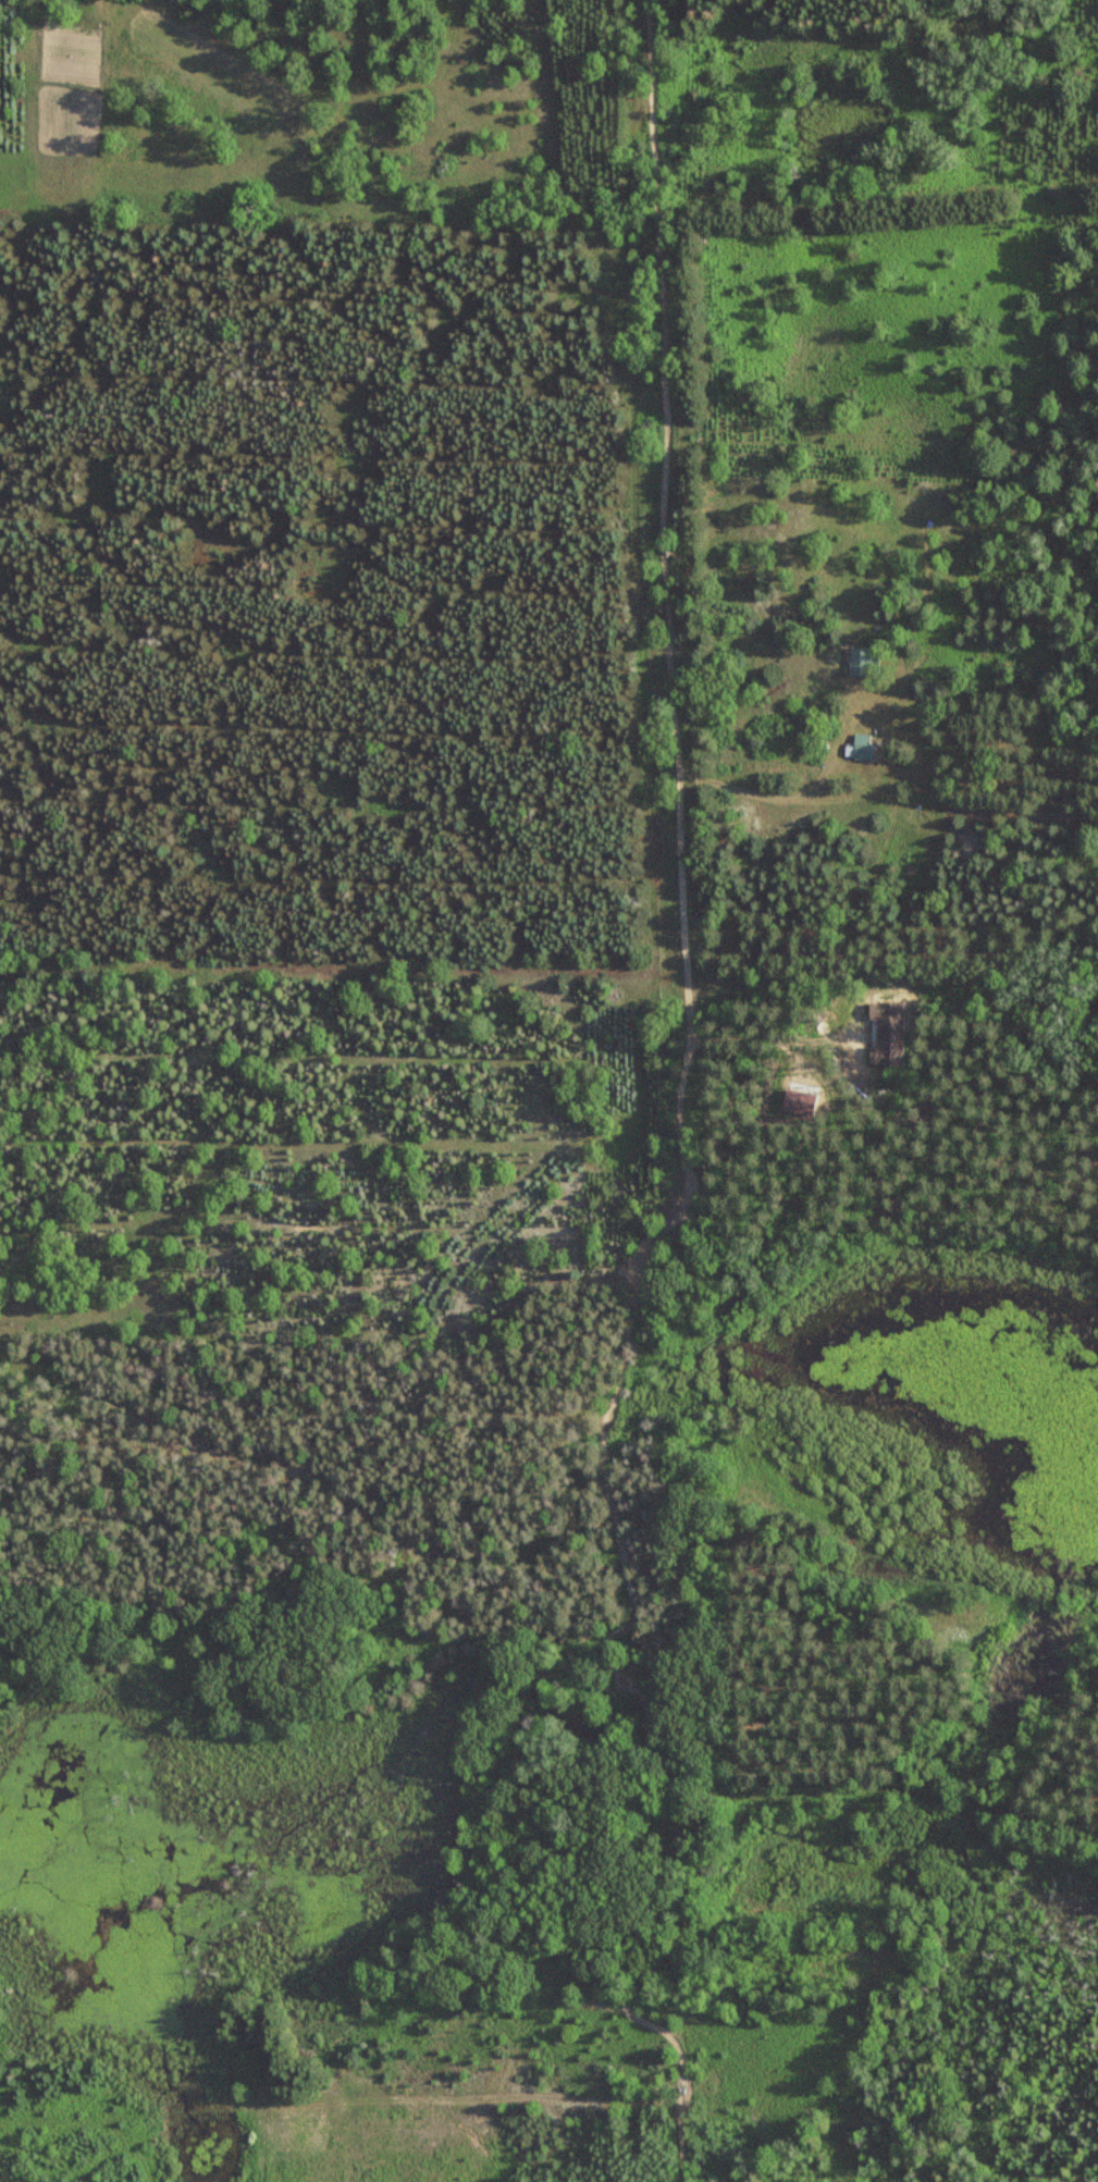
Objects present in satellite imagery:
building: (863, 745)
building: (892, 1040)
road: (695, 1090)

